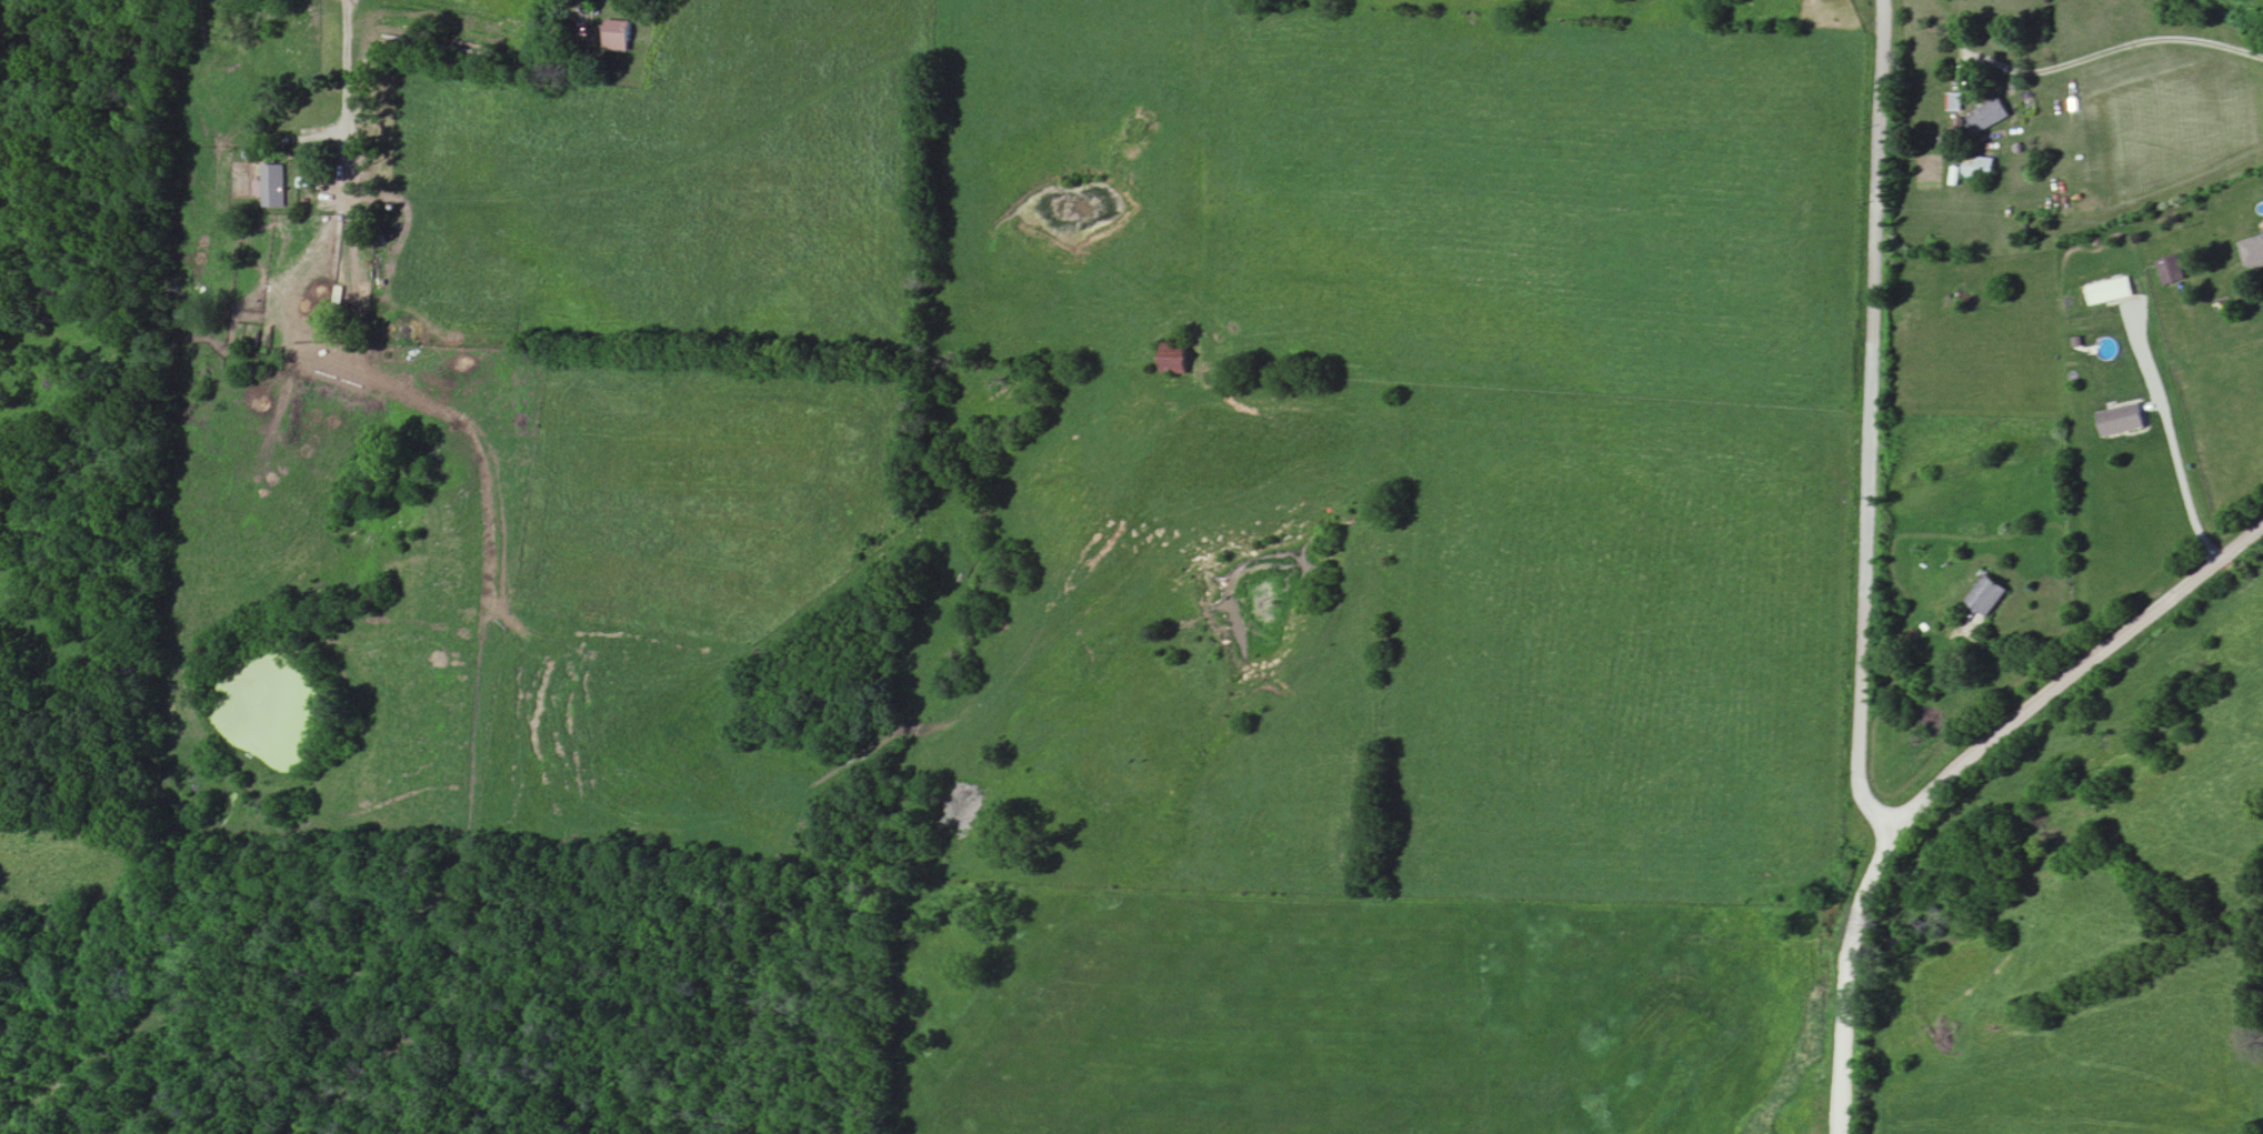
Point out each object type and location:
road: (581, 12)
building: (617, 37)
road: (2112, 48)
road: (1961, 59)
building: (1955, 104)
building: (1987, 118)
building: (1979, 170)
building: (273, 188)
building: (2252, 251)
building: (2171, 271)
building: (2109, 293)
building: (1173, 360)
road: (364, 377)
building: (2120, 421)
road: (1865, 425)
road: (2167, 439)
building: (1986, 598)
road: (1999, 653)
road: (2075, 672)
road: (1846, 976)

